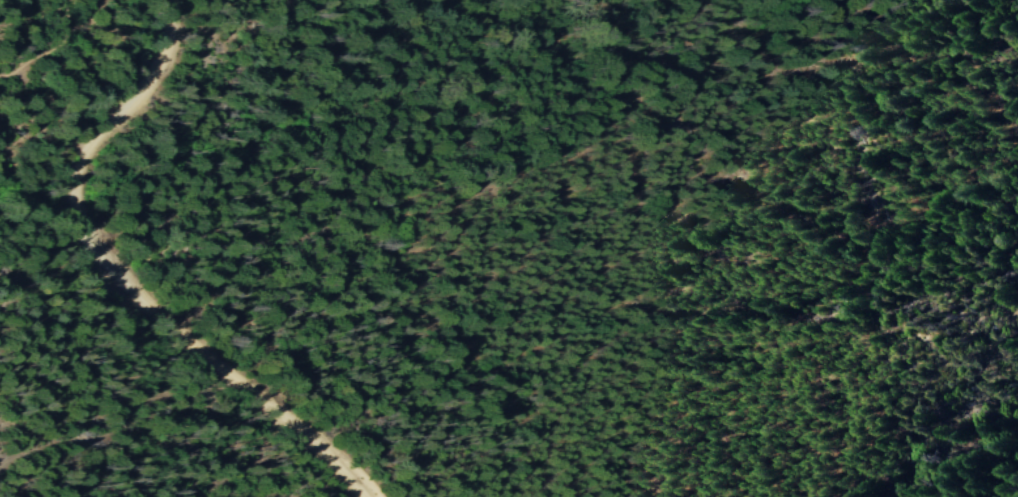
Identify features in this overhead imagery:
road: (122, 282)

